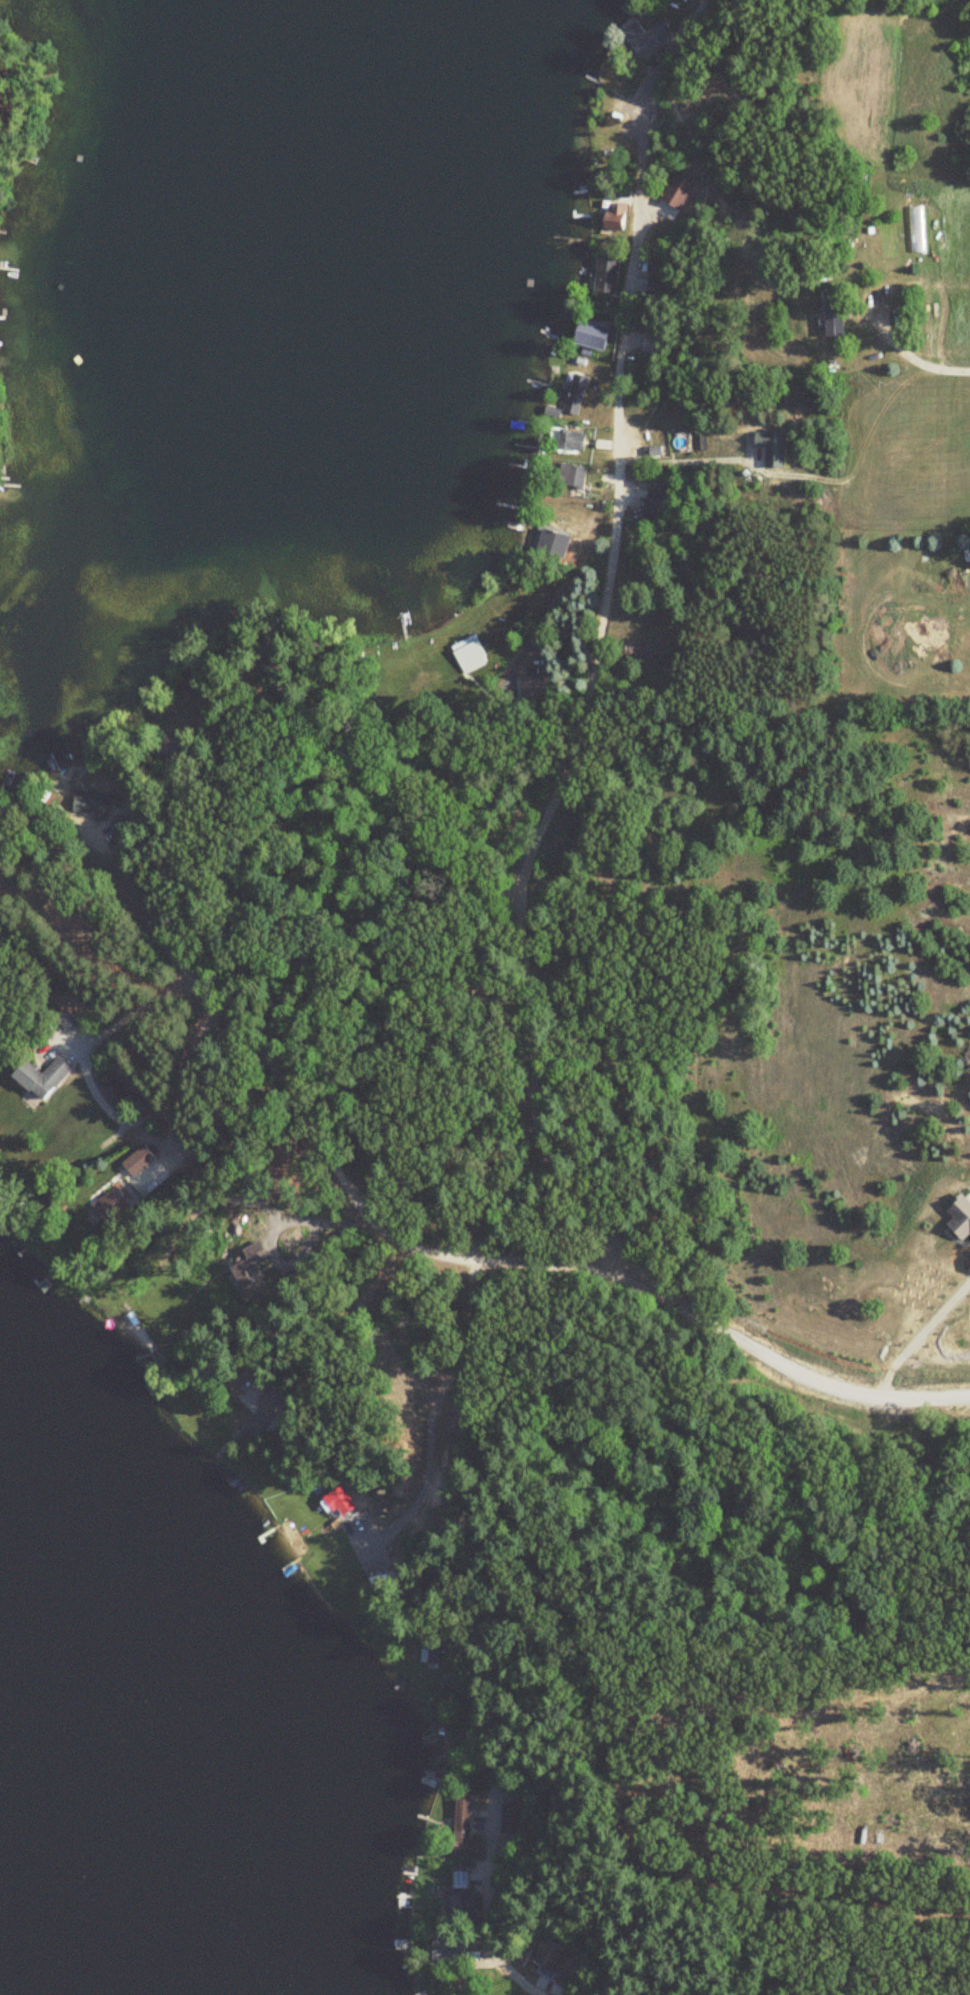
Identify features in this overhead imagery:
building: (643, 38)
building: (676, 194)
building: (603, 276)
building: (830, 315)
building: (596, 336)
building: (650, 342)
road: (918, 347)
building: (571, 392)
building: (564, 439)
building: (569, 474)
building: (652, 501)
building: (550, 543)
building: (467, 653)
road: (593, 662)
road: (219, 774)
road: (458, 800)
building: (94, 803)
building: (67, 1021)
road: (83, 1068)
building: (45, 1077)
building: (141, 1161)
road: (275, 1229)
road: (400, 1242)
building: (250, 1269)
road: (263, 1383)
road: (436, 1400)
building: (341, 1502)
building: (461, 1823)
road: (489, 1845)
building: (446, 1950)
building: (546, 1954)

